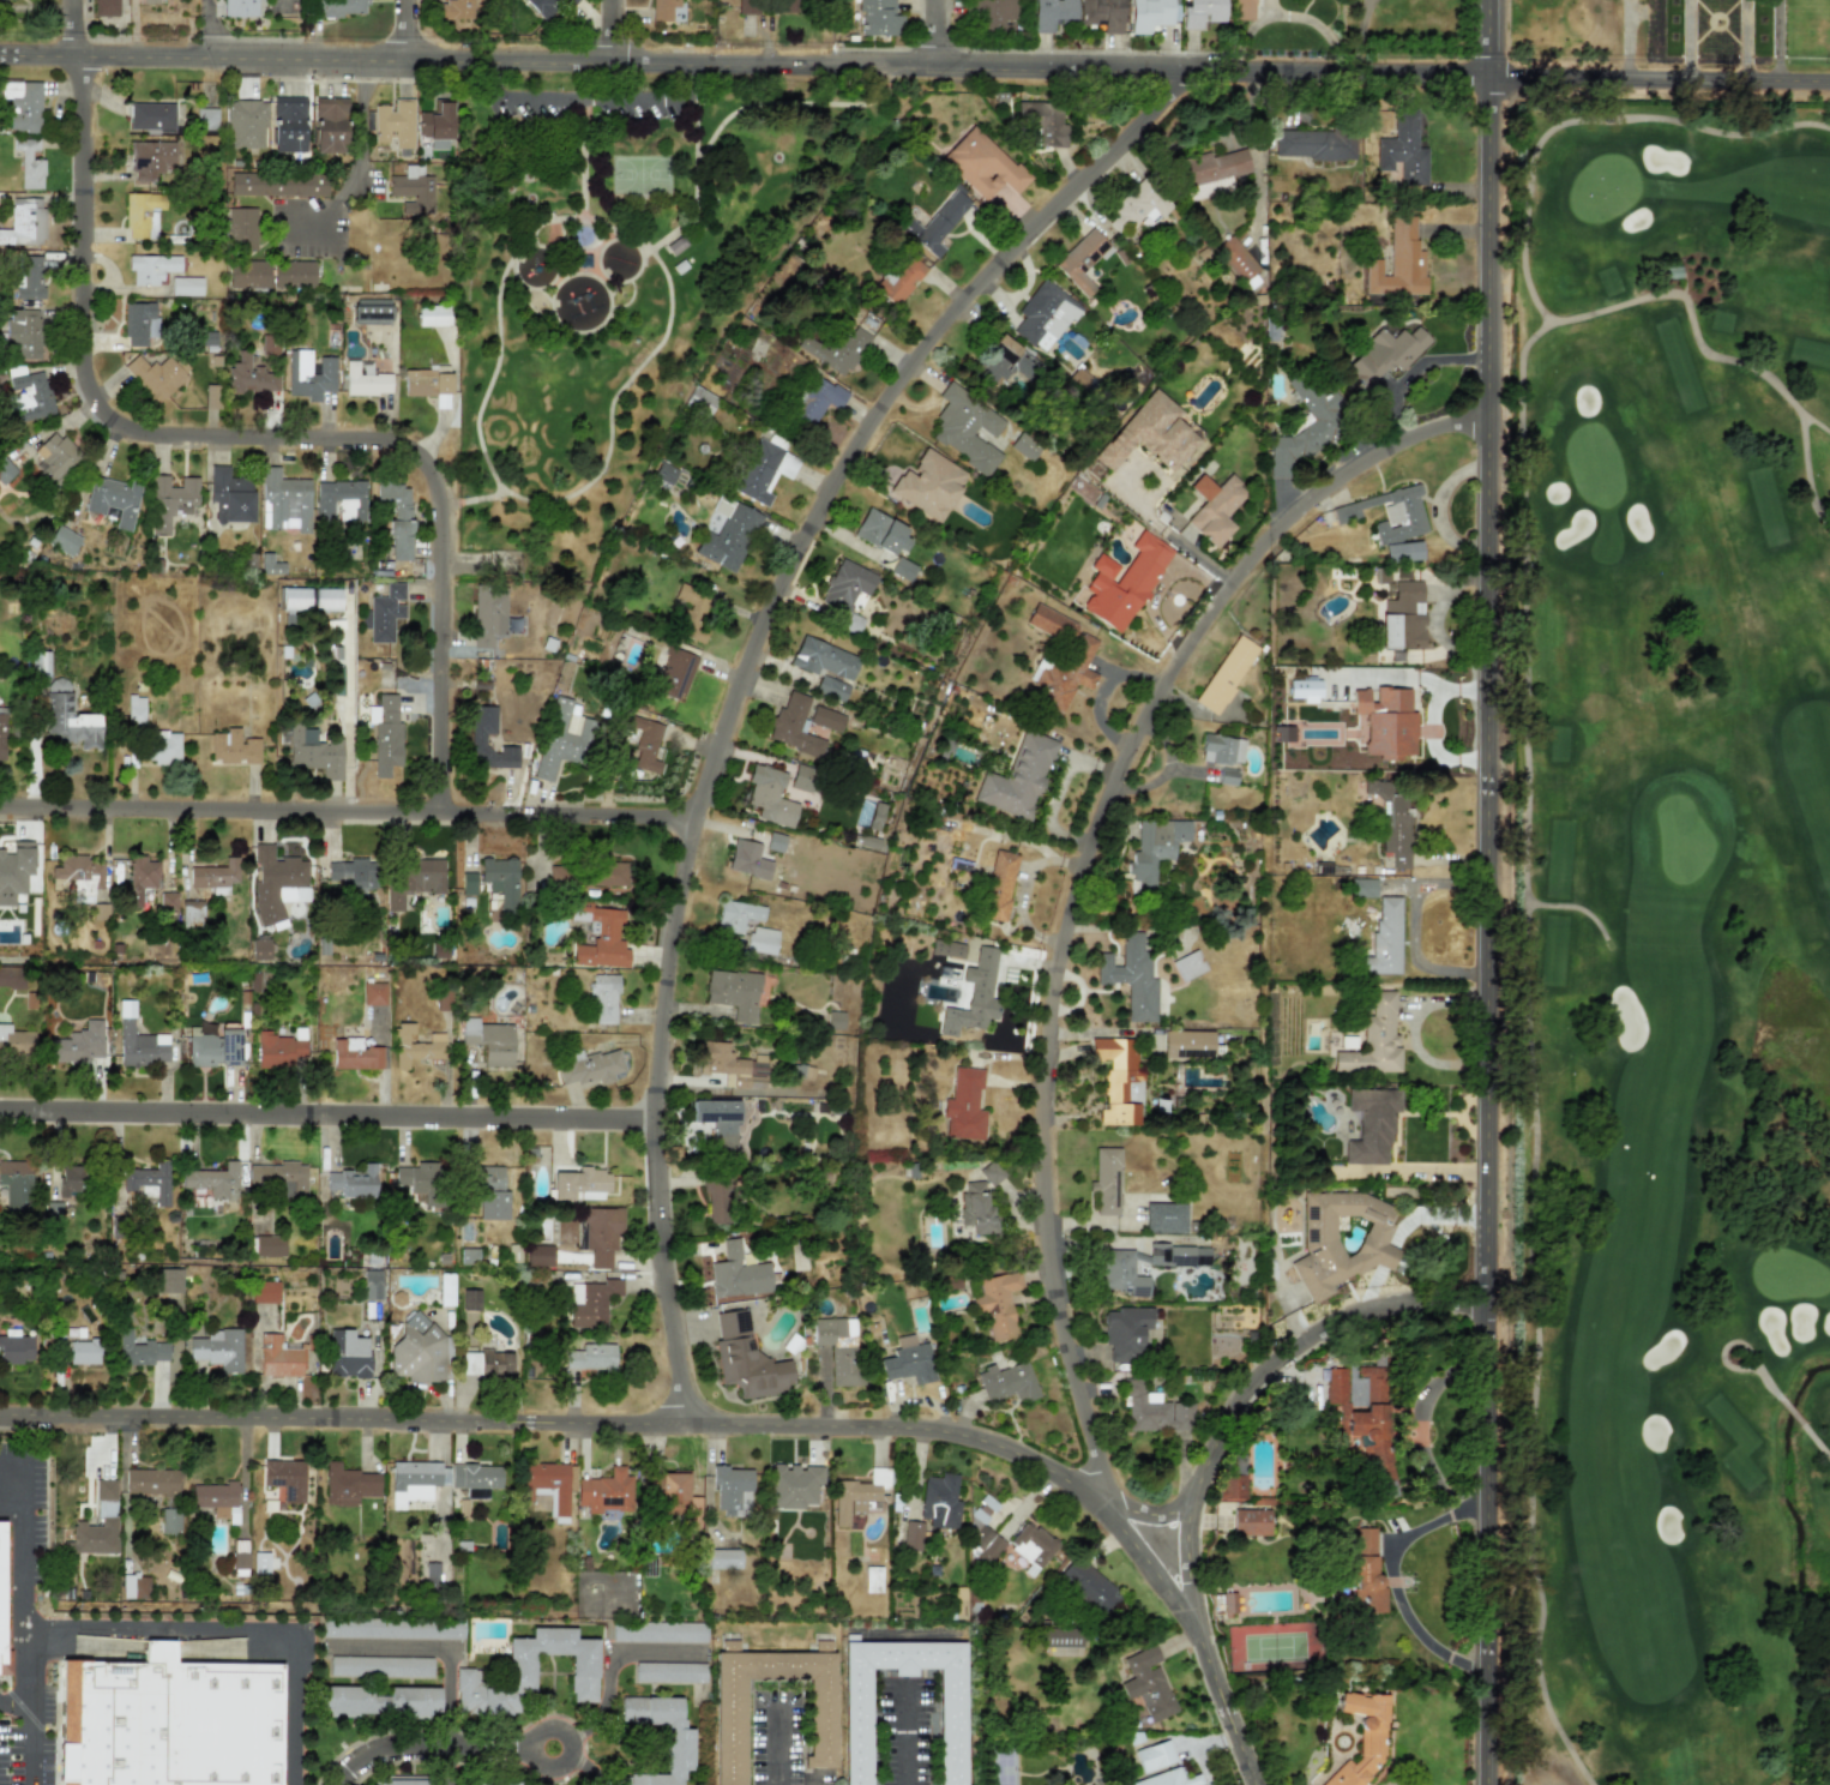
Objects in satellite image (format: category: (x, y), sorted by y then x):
building: (146, 1)
building: (769, 6)
building: (104, 7)
building: (339, 7)
building: (547, 7)
building: (239, 8)
building: (456, 8)
building: (662, 8)
building: (1242, 10)
building: (1202, 12)
building: (1151, 13)
road: (1286, 13)
building: (993, 14)
building: (1101, 14)
building: (878, 18)
road: (206, 29)
road: (403, 29)
road: (610, 30)
road: (933, 34)
road: (1360, 36)
road: (1489, 38)
road: (1687, 40)
road: (1745, 40)
road: (1777, 40)
road: (745, 62)
road: (1660, 79)
building: (23, 104)
road: (734, 114)
building: (151, 116)
road: (1588, 118)
building: (205, 119)
building: (1042, 121)
building: (393, 122)
building: (245, 124)
building: (287, 124)
building: (329, 125)
building: (435, 125)
building: (1314, 144)
building: (1403, 150)
building: (151, 158)
road: (359, 158)
building: (28, 163)
road: (584, 164)
building: (982, 164)
building: (1211, 173)
park: (640, 176)
building: (277, 184)
building: (411, 191)
building: (1137, 206)
building: (139, 212)
building: (934, 224)
building: (241, 228)
road: (630, 240)
road: (650, 250)
building: (1236, 259)
building: (1082, 260)
building: (1398, 263)
building: (150, 268)
building: (248, 274)
building: (293, 274)
building: (28, 276)
building: (901, 278)
building: (185, 286)
park: (609, 305)
building: (371, 311)
building: (432, 315)
building: (1045, 315)
building: (138, 323)
road: (1694, 330)
building: (22, 331)
building: (835, 349)
building: (1385, 355)
building: (997, 361)
road: (1414, 368)
building: (155, 374)
building: (308, 374)
building: (249, 377)
building: (365, 379)
building: (427, 385)
building: (210, 396)
building: (817, 399)
building: (700, 402)
building: (967, 428)
building: (1150, 434)
road: (227, 435)
building: (1024, 447)
building: (55, 457)
building: (5, 469)
building: (764, 469)
road: (1806, 470)
building: (664, 473)
building: (929, 485)
building: (1082, 487)
building: (229, 494)
road: (478, 495)
building: (170, 499)
building: (112, 500)
building: (284, 500)
building: (339, 500)
building: (1215, 507)
road: (1435, 507)
building: (1389, 515)
building: (396, 517)
building: (880, 531)
building: (728, 534)
building: (62, 540)
building: (270, 564)
building: (902, 569)
building: (1392, 575)
building: (1124, 583)
building: (845, 585)
building: (311, 597)
building: (385, 612)
building: (692, 613)
building: (487, 614)
building: (1403, 617)
road: (1434, 618)
building: (1051, 624)
building: (823, 659)
building: (673, 672)
building: (1063, 674)
building: (1226, 674)
road: (742, 679)
building: (831, 689)
building: (1305, 690)
building: (134, 709)
building: (68, 716)
building: (826, 719)
building: (1386, 722)
building: (794, 726)
building: (1282, 733)
building: (1, 734)
building: (385, 734)
building: (561, 738)
building: (477, 740)
building: (644, 744)
building: (233, 746)
building: (164, 749)
building: (1222, 750)
building: (314, 752)
building: (1227, 776)
building: (1018, 777)
building: (805, 779)
building: (770, 797)
road: (345, 807)
building: (875, 816)
building: (1391, 823)
building: (775, 842)
building: (1155, 849)
building: (744, 855)
building: (14, 870)
building: (215, 873)
building: (350, 873)
building: (606, 873)
building: (79, 876)
building: (139, 878)
building: (413, 879)
building: (501, 882)
building: (276, 883)
building: (468, 883)
building: (999, 885)
road: (1571, 907)
building: (191, 909)
building: (738, 915)
road: (1491, 930)
road: (1061, 934)
building: (600, 937)
building: (1384, 938)
building: (762, 940)
park: (1671, 944)
building: (260, 949)
building: (947, 949)
building: (1188, 966)
building: (11, 976)
building: (1131, 978)
building: (373, 993)
building: (734, 993)
building: (974, 996)
building: (603, 999)
building: (835, 1020)
building: (10, 1040)
building: (1374, 1040)
building: (138, 1041)
building: (489, 1041)
building: (78, 1044)
building: (1187, 1044)
building: (415, 1046)
building: (213, 1047)
building: (281, 1048)
building: (354, 1054)
road: (1529, 1054)
building: (732, 1064)
building: (589, 1066)
building: (964, 1105)
road: (326, 1113)
building: (717, 1118)
building: (1371, 1125)
building: (991, 1173)
building: (277, 1178)
building: (70, 1179)
building: (149, 1180)
building: (212, 1180)
building: (419, 1180)
building: (353, 1182)
building: (1106, 1182)
building: (16, 1184)
building: (580, 1184)
building: (490, 1195)
building: (718, 1200)
building: (976, 1208)
building: (1164, 1218)
building: (601, 1234)
building: (1342, 1240)
building: (269, 1245)
building: (538, 1255)
building: (1178, 1255)
building: (738, 1273)
building: (1120, 1273)
building: (168, 1280)
building: (952, 1282)
building: (372, 1285)
building: (446, 1290)
building: (264, 1291)
building: (470, 1299)
building: (591, 1303)
building: (997, 1305)
building: (1125, 1333)
road: (1739, 1342)
building: (14, 1347)
building: (838, 1347)
building: (217, 1348)
building: (138, 1350)
building: (419, 1350)
building: (80, 1351)
building: (347, 1354)
building: (278, 1356)
building: (591, 1357)
building: (746, 1359)
building: (908, 1362)
building: (487, 1364)
building: (1006, 1382)
building: (1154, 1411)
building: (1365, 1420)
road: (560, 1423)
road: (20, 1430)
road: (1814, 1437)
road: (1206, 1453)
building: (284, 1478)
building: (476, 1479)
building: (150, 1480)
building: (415, 1482)
building: (548, 1484)
building: (348, 1485)
building: (793, 1485)
building: (1232, 1486)
building: (733, 1491)
building: (606, 1492)
building: (675, 1495)
building: (860, 1495)
building: (939, 1501)
building: (462, 1509)
building: (216, 1511)
road: (1148, 1514)
building: (169, 1520)
building: (856, 1520)
building: (1251, 1522)
building: (95, 1526)
road: (18, 1532)
building: (911, 1535)
building: (985, 1543)
building: (1031, 1544)
building: (724, 1558)
building: (260, 1562)
building: (1366, 1574)
building: (872, 1580)
road: (1391, 1581)
building: (1089, 1586)
building: (134, 1587)
building: (1, 1598)
building: (1228, 1603)
building: (392, 1628)
road: (164, 1629)
road: (31, 1631)
building: (658, 1631)
building: (1064, 1639)
road: (439, 1647)
building: (380, 1666)
road: (612, 1669)
building: (529, 1672)
building: (1148, 1684)
road: (18, 1700)
building: (378, 1701)
road: (23, 1707)
road: (294, 1709)
road: (35, 1717)
building: (729, 1718)
building: (171, 1721)
road: (56, 1723)
building: (951, 1730)
road: (910, 1733)
building: (1361, 1738)
parking lot: (11, 1742)
road: (571, 1748)
road: (776, 1748)
road: (423, 1749)
building: (679, 1749)
building: (1154, 1756)
building: (1168, 1779)
building: (410, 1780)
building: (486, 1781)

